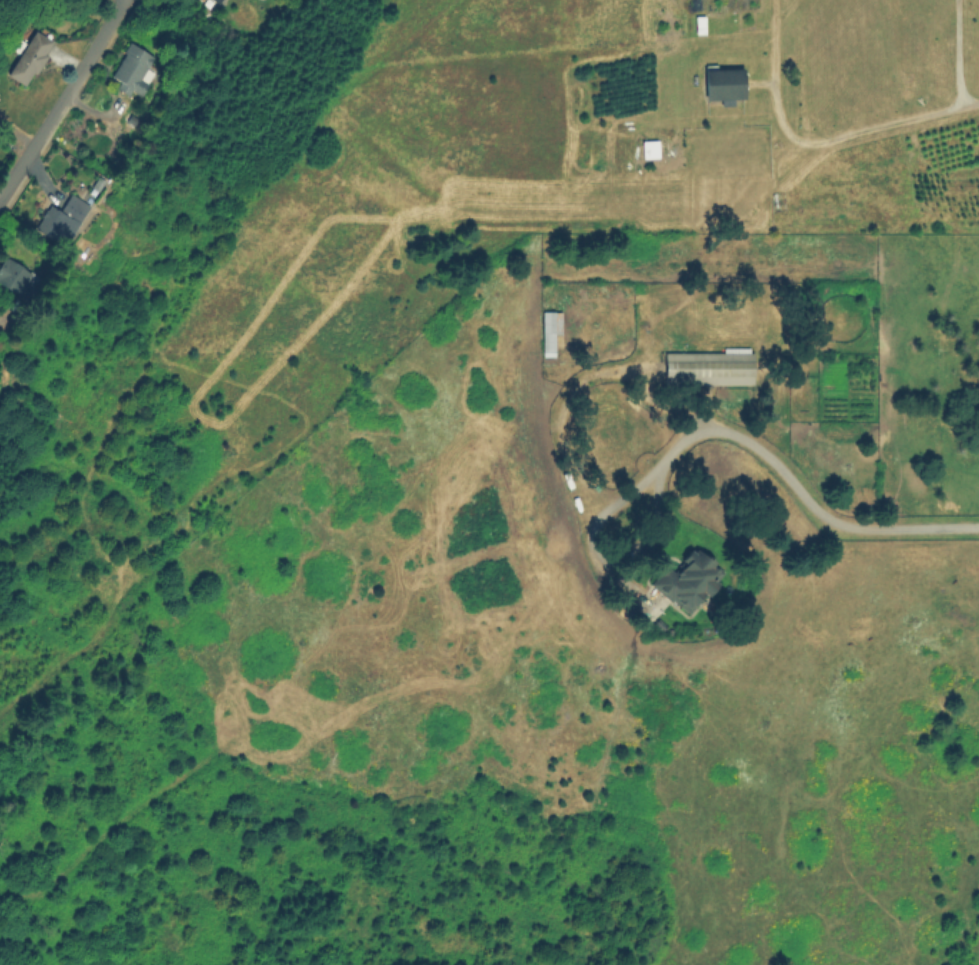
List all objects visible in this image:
building: (200, 0)
building: (217, 2)
building: (701, 22)
building: (29, 57)
building: (134, 70)
building: (724, 84)
road: (63, 104)
road: (845, 135)
building: (648, 149)
building: (63, 221)
building: (20, 280)
building: (549, 330)
building: (709, 369)
road: (775, 467)
building: (688, 581)

